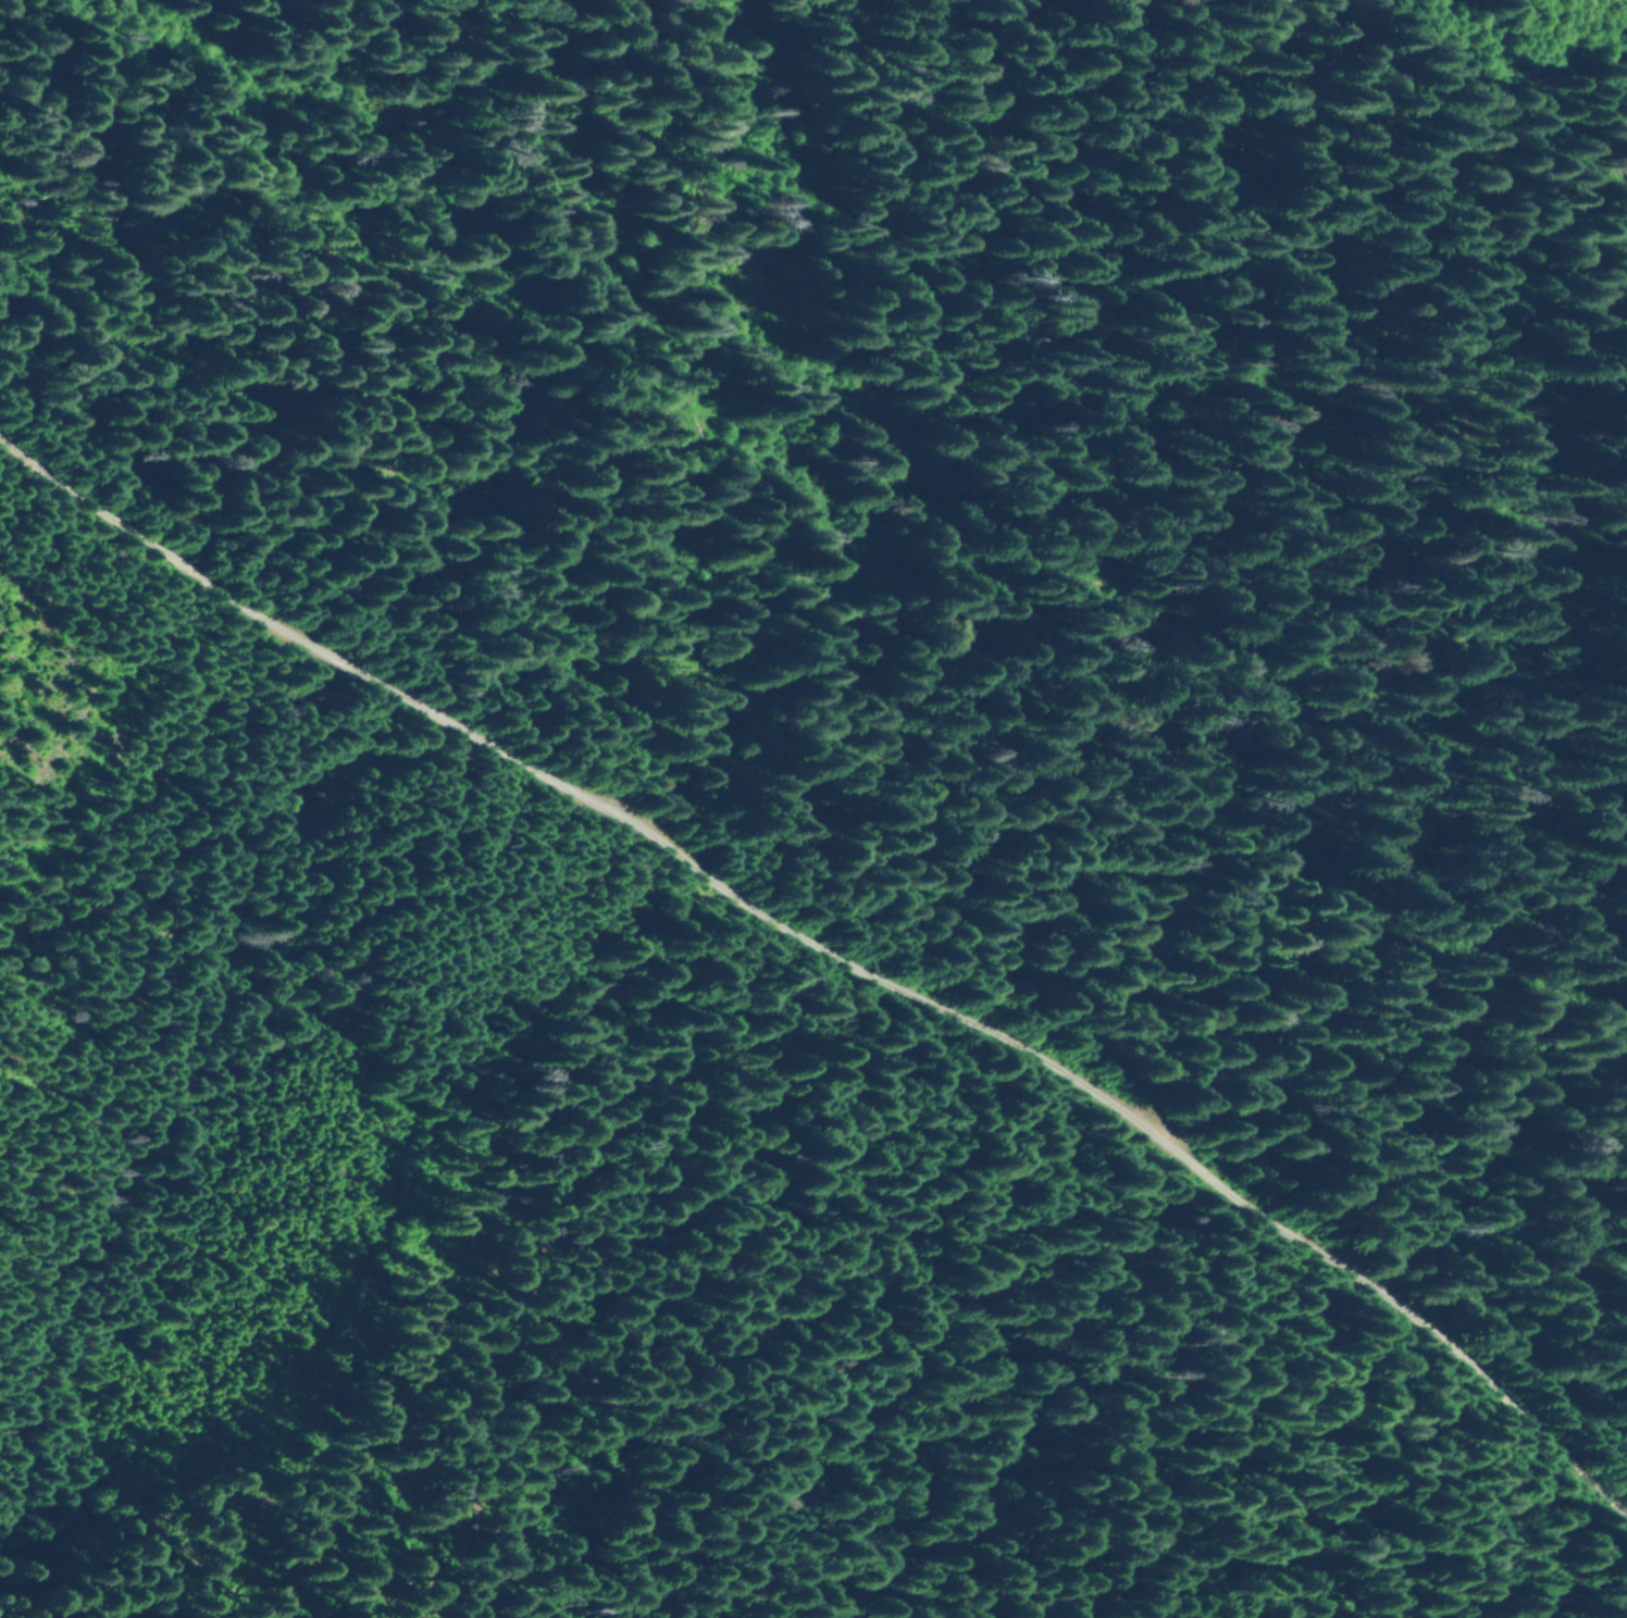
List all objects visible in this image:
road: (829, 928)

